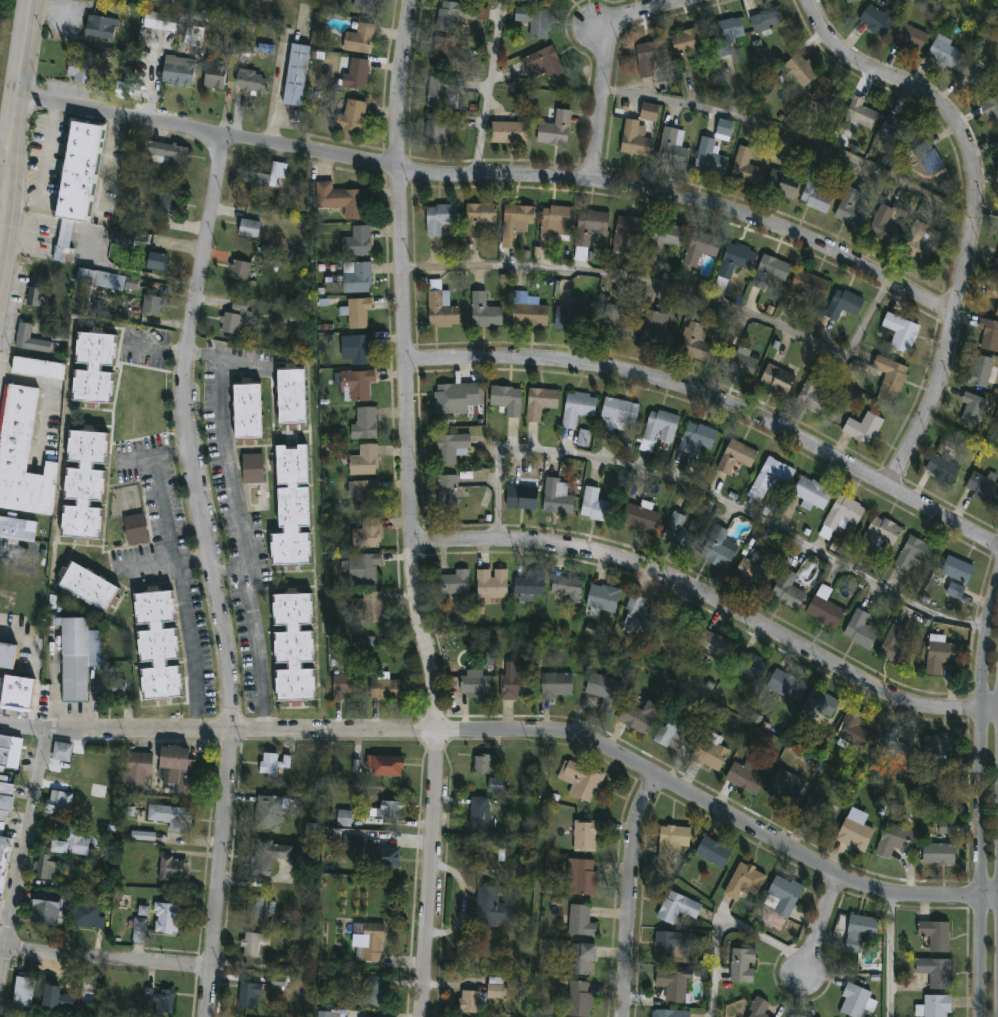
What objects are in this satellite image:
building: (165, 1)
building: (548, 1)
building: (850, 1)
building: (363, 5)
park: (982, 6)
building: (458, 16)
building: (767, 20)
building: (878, 20)
building: (160, 21)
building: (535, 22)
building: (105, 23)
building: (727, 35)
building: (194, 36)
building: (910, 37)
building: (360, 39)
building: (690, 41)
building: (448, 52)
building: (945, 52)
building: (650, 57)
road: (608, 63)
building: (543, 64)
building: (799, 70)
building: (82, 71)
building: (178, 71)
building: (296, 74)
building: (355, 75)
building: (214, 76)
building: (975, 78)
building: (251, 83)
road: (490, 89)
building: (124, 90)
building: (444, 90)
road: (279, 92)
building: (827, 92)
road: (19, 107)
building: (991, 108)
building: (650, 112)
building: (859, 114)
building: (352, 116)
building: (441, 125)
building: (555, 126)
building: (898, 127)
building: (724, 130)
building: (509, 131)
road: (795, 135)
building: (636, 137)
building: (997, 139)
building: (997, 142)
building: (673, 145)
building: (165, 152)
building: (928, 156)
building: (710, 157)
building: (746, 166)
road: (45, 173)
building: (264, 177)
road: (496, 178)
building: (77, 180)
building: (783, 183)
building: (817, 193)
building: (342, 198)
building: (170, 202)
road: (976, 208)
building: (851, 209)
building: (440, 217)
building: (479, 217)
building: (517, 218)
building: (556, 220)
building: (885, 225)
building: (249, 227)
building: (590, 230)
building: (628, 234)
building: (123, 237)
building: (666, 237)
building: (357, 241)
building: (918, 242)
building: (701, 246)
building: (157, 260)
building: (734, 262)
building: (240, 269)
building: (996, 269)
building: (770, 270)
building: (359, 277)
building: (809, 285)
road: (673, 289)
building: (992, 289)
building: (82, 290)
building: (34, 298)
building: (845, 303)
building: (151, 304)
building: (441, 305)
building: (530, 310)
building: (358, 311)
building: (485, 311)
building: (997, 312)
building: (235, 317)
building: (572, 318)
building: (617, 323)
building: (655, 331)
building: (901, 331)
building: (989, 334)
building: (33, 338)
building: (697, 338)
road: (157, 348)
building: (359, 348)
building: (738, 359)
building: (38, 367)
building: (94, 367)
building: (981, 371)
building: (891, 374)
building: (778, 378)
building: (355, 383)
building: (292, 395)
building: (814, 395)
building: (449, 397)
road: (46, 399)
building: (508, 399)
building: (138, 403)
building: (541, 403)
road: (717, 404)
building: (578, 408)
building: (974, 408)
building: (248, 409)
building: (620, 411)
building: (365, 423)
building: (864, 426)
building: (659, 429)
park: (993, 434)
building: (697, 437)
building: (583, 438)
building: (452, 446)
building: (22, 454)
building: (737, 455)
building: (364, 460)
building: (944, 467)
building: (253, 468)
building: (772, 477)
building: (84, 483)
building: (984, 487)
building: (447, 492)
building: (813, 492)
building: (363, 494)
building: (557, 496)
road: (713, 496)
building: (523, 497)
building: (597, 505)
building: (292, 507)
road: (413, 509)
building: (841, 515)
building: (641, 517)
building: (17, 527)
road: (238, 528)
building: (137, 529)
building: (682, 532)
building: (882, 532)
building: (367, 533)
building: (721, 548)
building: (916, 553)
road: (193, 559)
road: (16, 560)
building: (754, 564)
road: (152, 566)
building: (358, 566)
road: (230, 569)
building: (959, 569)
road: (177, 574)
road: (215, 576)
building: (455, 583)
building: (530, 585)
building: (88, 586)
building: (493, 586)
building: (568, 587)
building: (789, 590)
building: (955, 590)
building: (602, 599)
road: (715, 599)
building: (371, 606)
building: (825, 611)
building: (638, 616)
building: (678, 625)
building: (591, 628)
building: (860, 629)
road: (13, 630)
building: (157, 644)
building: (713, 644)
building: (896, 646)
building: (294, 647)
building: (940, 654)
building: (6, 656)
building: (79, 656)
building: (751, 665)
building: (515, 682)
building: (347, 685)
building: (476, 685)
building: (556, 685)
building: (786, 685)
building: (385, 687)
building: (110, 688)
building: (605, 692)
building: (16, 693)
building: (817, 706)
building: (640, 716)
building: (756, 718)
building: (854, 730)
building: (674, 731)
road: (517, 735)
building: (938, 745)
building: (892, 746)
building: (710, 751)
building: (8, 752)
building: (62, 752)
building: (487, 763)
building: (274, 764)
building: (386, 765)
building: (136, 771)
building: (176, 772)
building: (746, 776)
building: (581, 779)
building: (495, 785)
building: (785, 787)
building: (98, 791)
building: (6, 796)
road: (982, 797)
building: (58, 804)
building: (386, 810)
building: (268, 812)
building: (479, 812)
building: (170, 816)
building: (344, 818)
building: (817, 818)
building: (946, 827)
building: (312, 830)
building: (855, 833)
building: (587, 835)
building: (143, 836)
road: (29, 839)
building: (896, 839)
building: (673, 840)
building: (69, 843)
building: (714, 851)
building: (372, 853)
building: (940, 854)
building: (3, 857)
building: (267, 857)
building: (46, 867)
building: (171, 868)
building: (581, 877)
building: (744, 881)
road: (628, 896)
building: (784, 896)
building: (492, 908)
building: (677, 908)
building: (256, 909)
building: (143, 910)
road: (7, 912)
building: (44, 913)
building: (87, 915)
building: (166, 916)
building: (579, 921)
road: (721, 922)
road: (821, 923)
building: (863, 926)
building: (138, 929)
building: (935, 934)
building: (368, 943)
road: (4, 944)
building: (251, 944)
building: (671, 945)
road: (891, 955)
road: (109, 957)
building: (581, 957)
building: (743, 965)
road: (4, 966)
building: (937, 971)
building: (278, 981)
building: (674, 984)
building: (496, 988)
building: (88, 989)
building: (23, 992)
building: (372, 992)
building: (248, 994)
building: (57, 1000)
building: (580, 1000)
building: (160, 1001)
building: (858, 1001)
building: (471, 1002)
building: (935, 1006)
building: (759, 1008)
building: (331, 1013)
building: (670, 1013)
building: (796, 1016)

